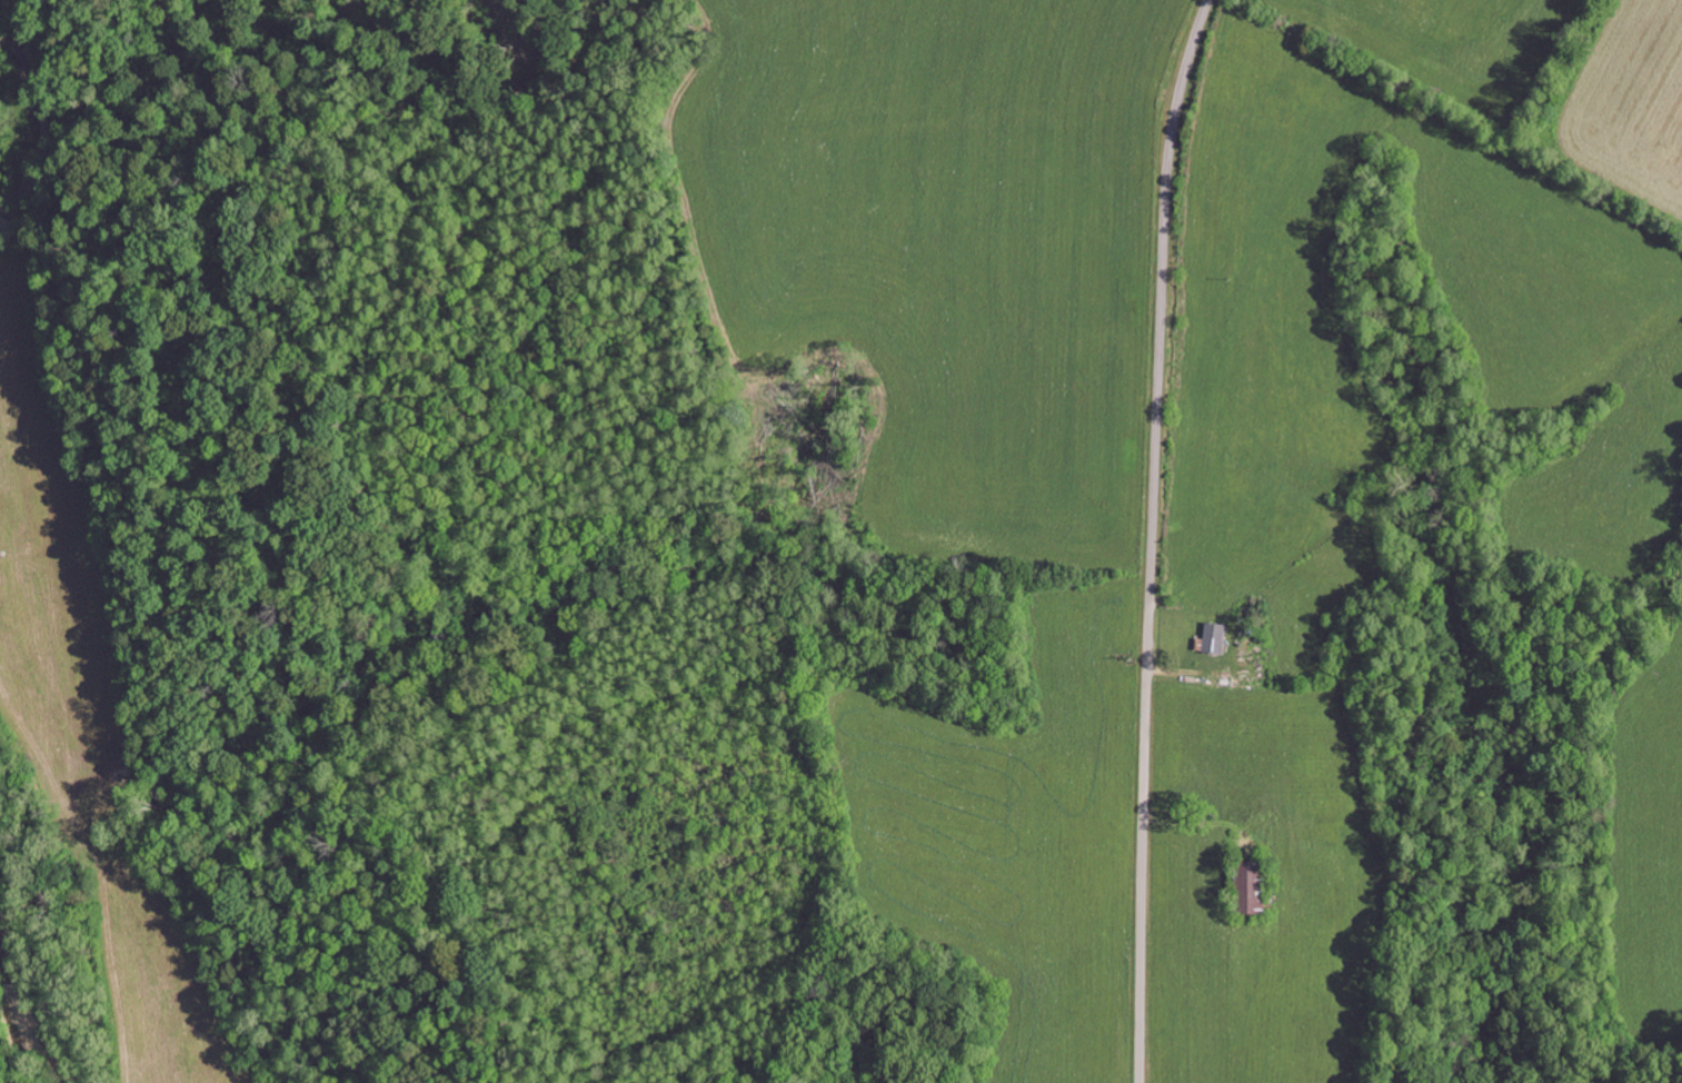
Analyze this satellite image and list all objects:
road: (1149, 538)
building: (1215, 637)
building: (1257, 885)

